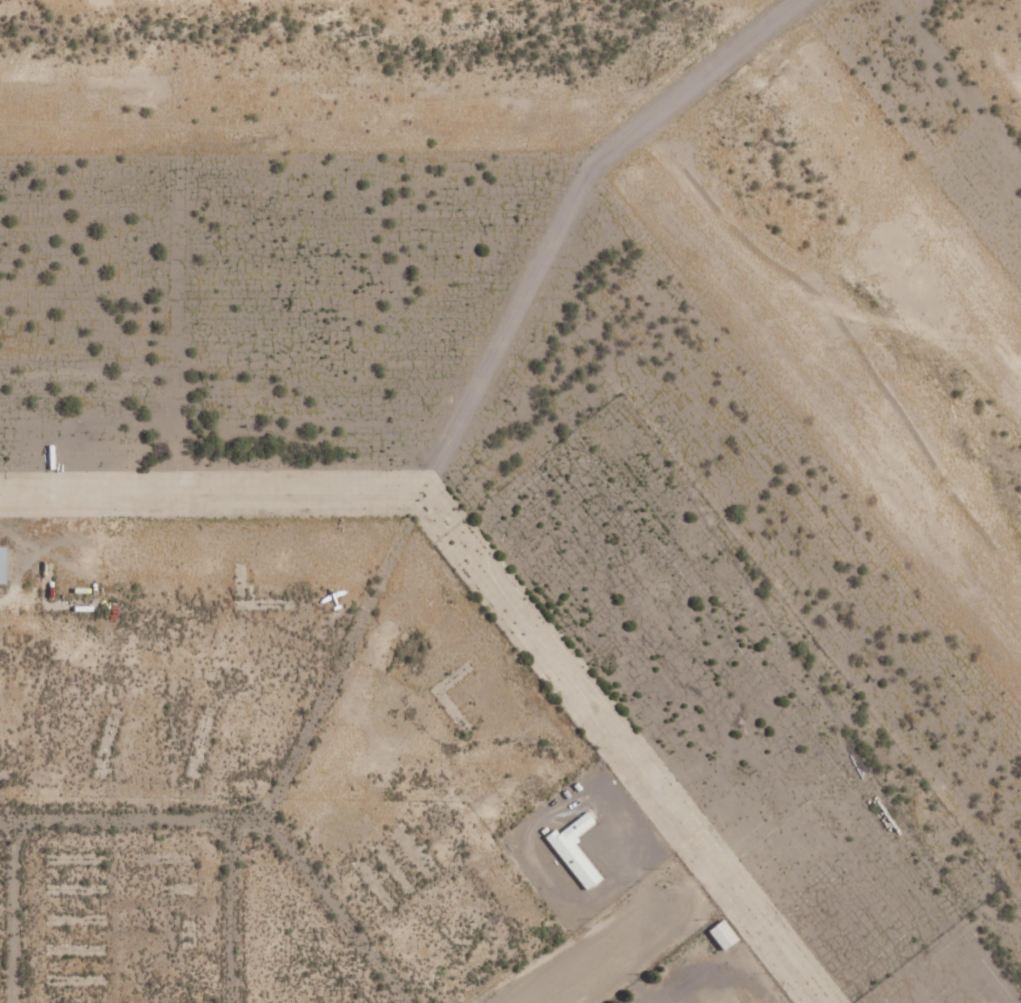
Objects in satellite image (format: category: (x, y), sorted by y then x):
airport taxiway: (569, 217)
building: (5, 564)
airport taxiway: (487, 583)
building: (576, 850)
building: (719, 934)

